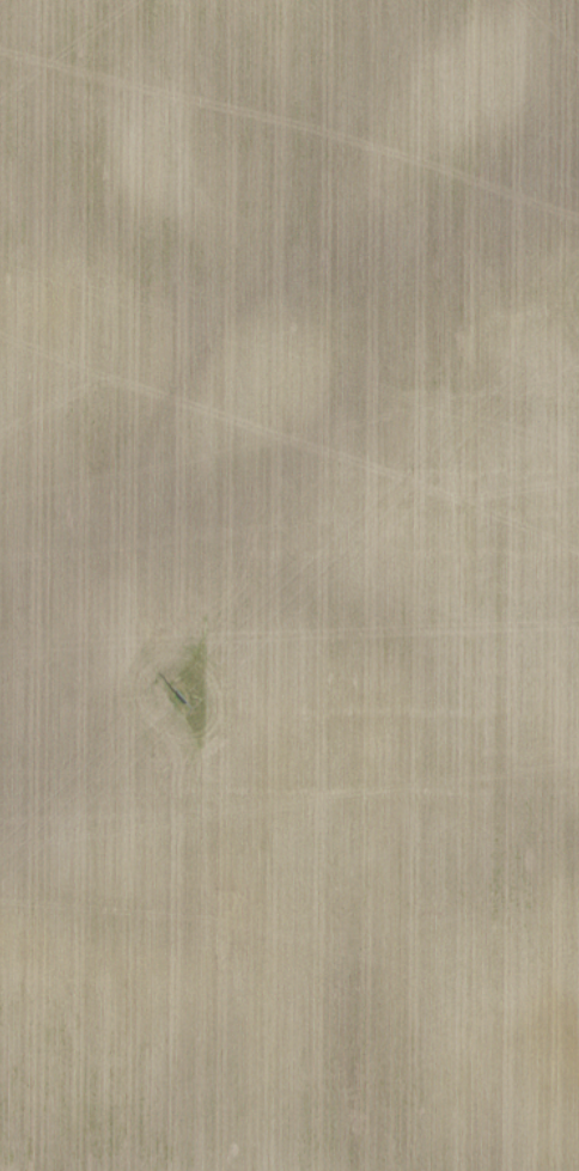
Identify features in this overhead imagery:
power tower: (181, 697)

